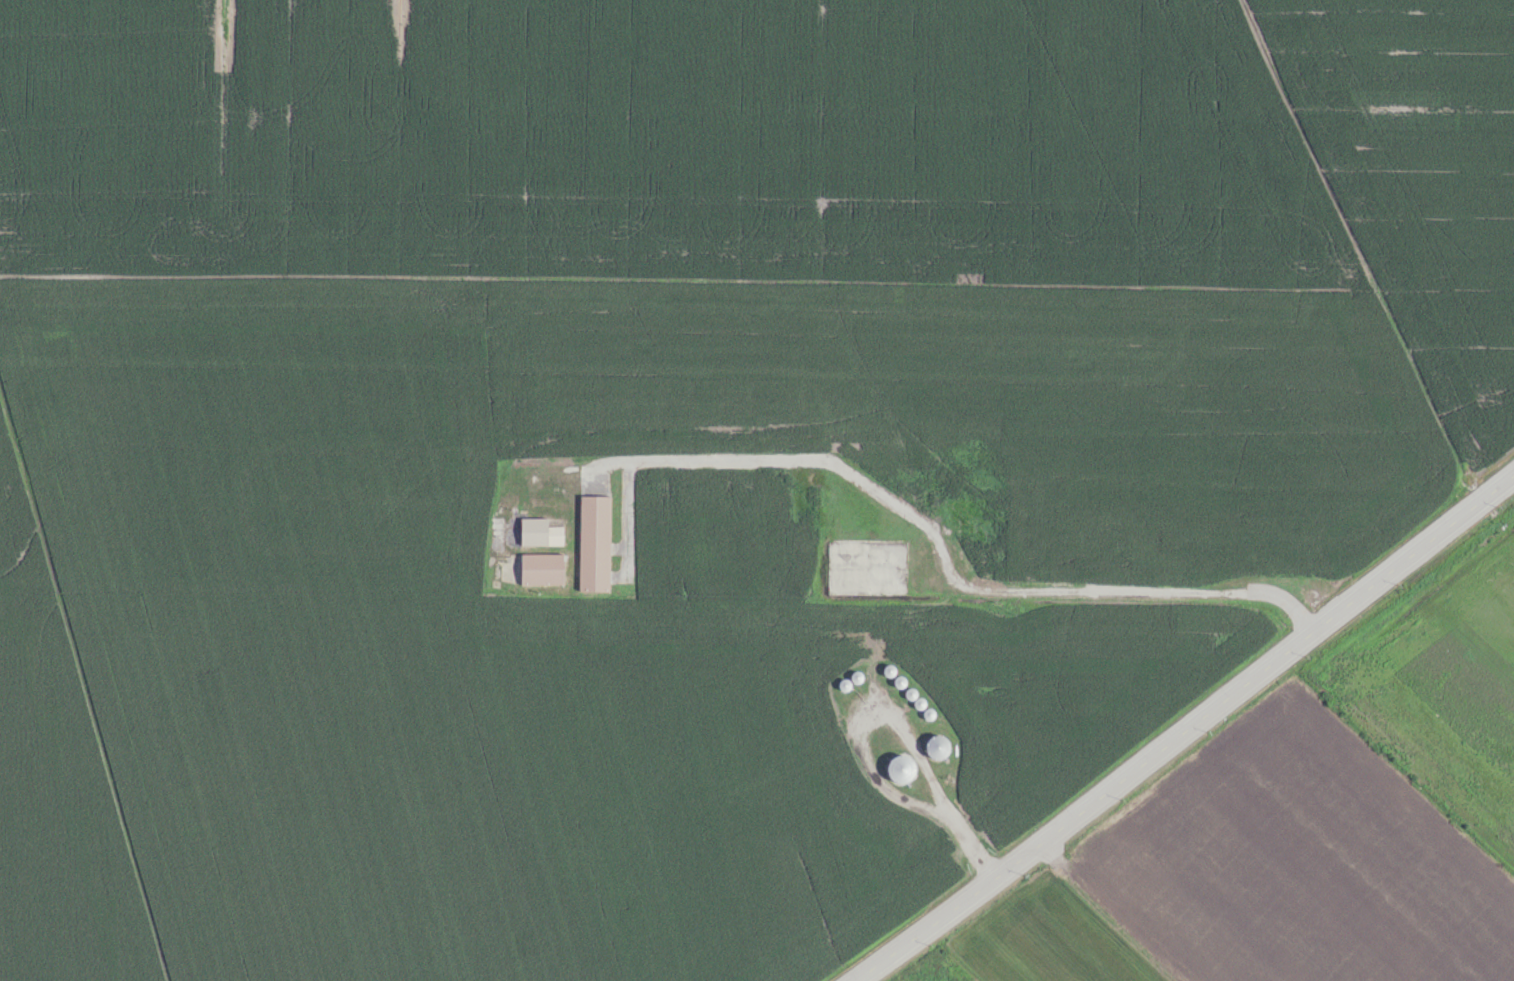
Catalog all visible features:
road: (594, 466)
road: (509, 497)
road: (919, 522)
road: (509, 534)
airport hangar: (537, 535)
building: (537, 535)
airport hangar: (594, 546)
building: (594, 546)
road: (618, 548)
airport hangar: (539, 571)
building: (539, 571)
building: (887, 670)
storage tank: (887, 670)
building: (855, 676)
storage tank: (855, 676)
building: (898, 681)
storage tank: (898, 681)
building: (842, 684)
storage tank: (842, 684)
building: (909, 693)
storage tank: (909, 693)
building: (918, 702)
storage tank: (918, 702)
building: (927, 713)
storage tank: (927, 713)
road: (895, 715)
road: (1186, 728)
building: (935, 746)
storage tank: (935, 746)
building: (898, 768)
storage tank: (898, 768)

